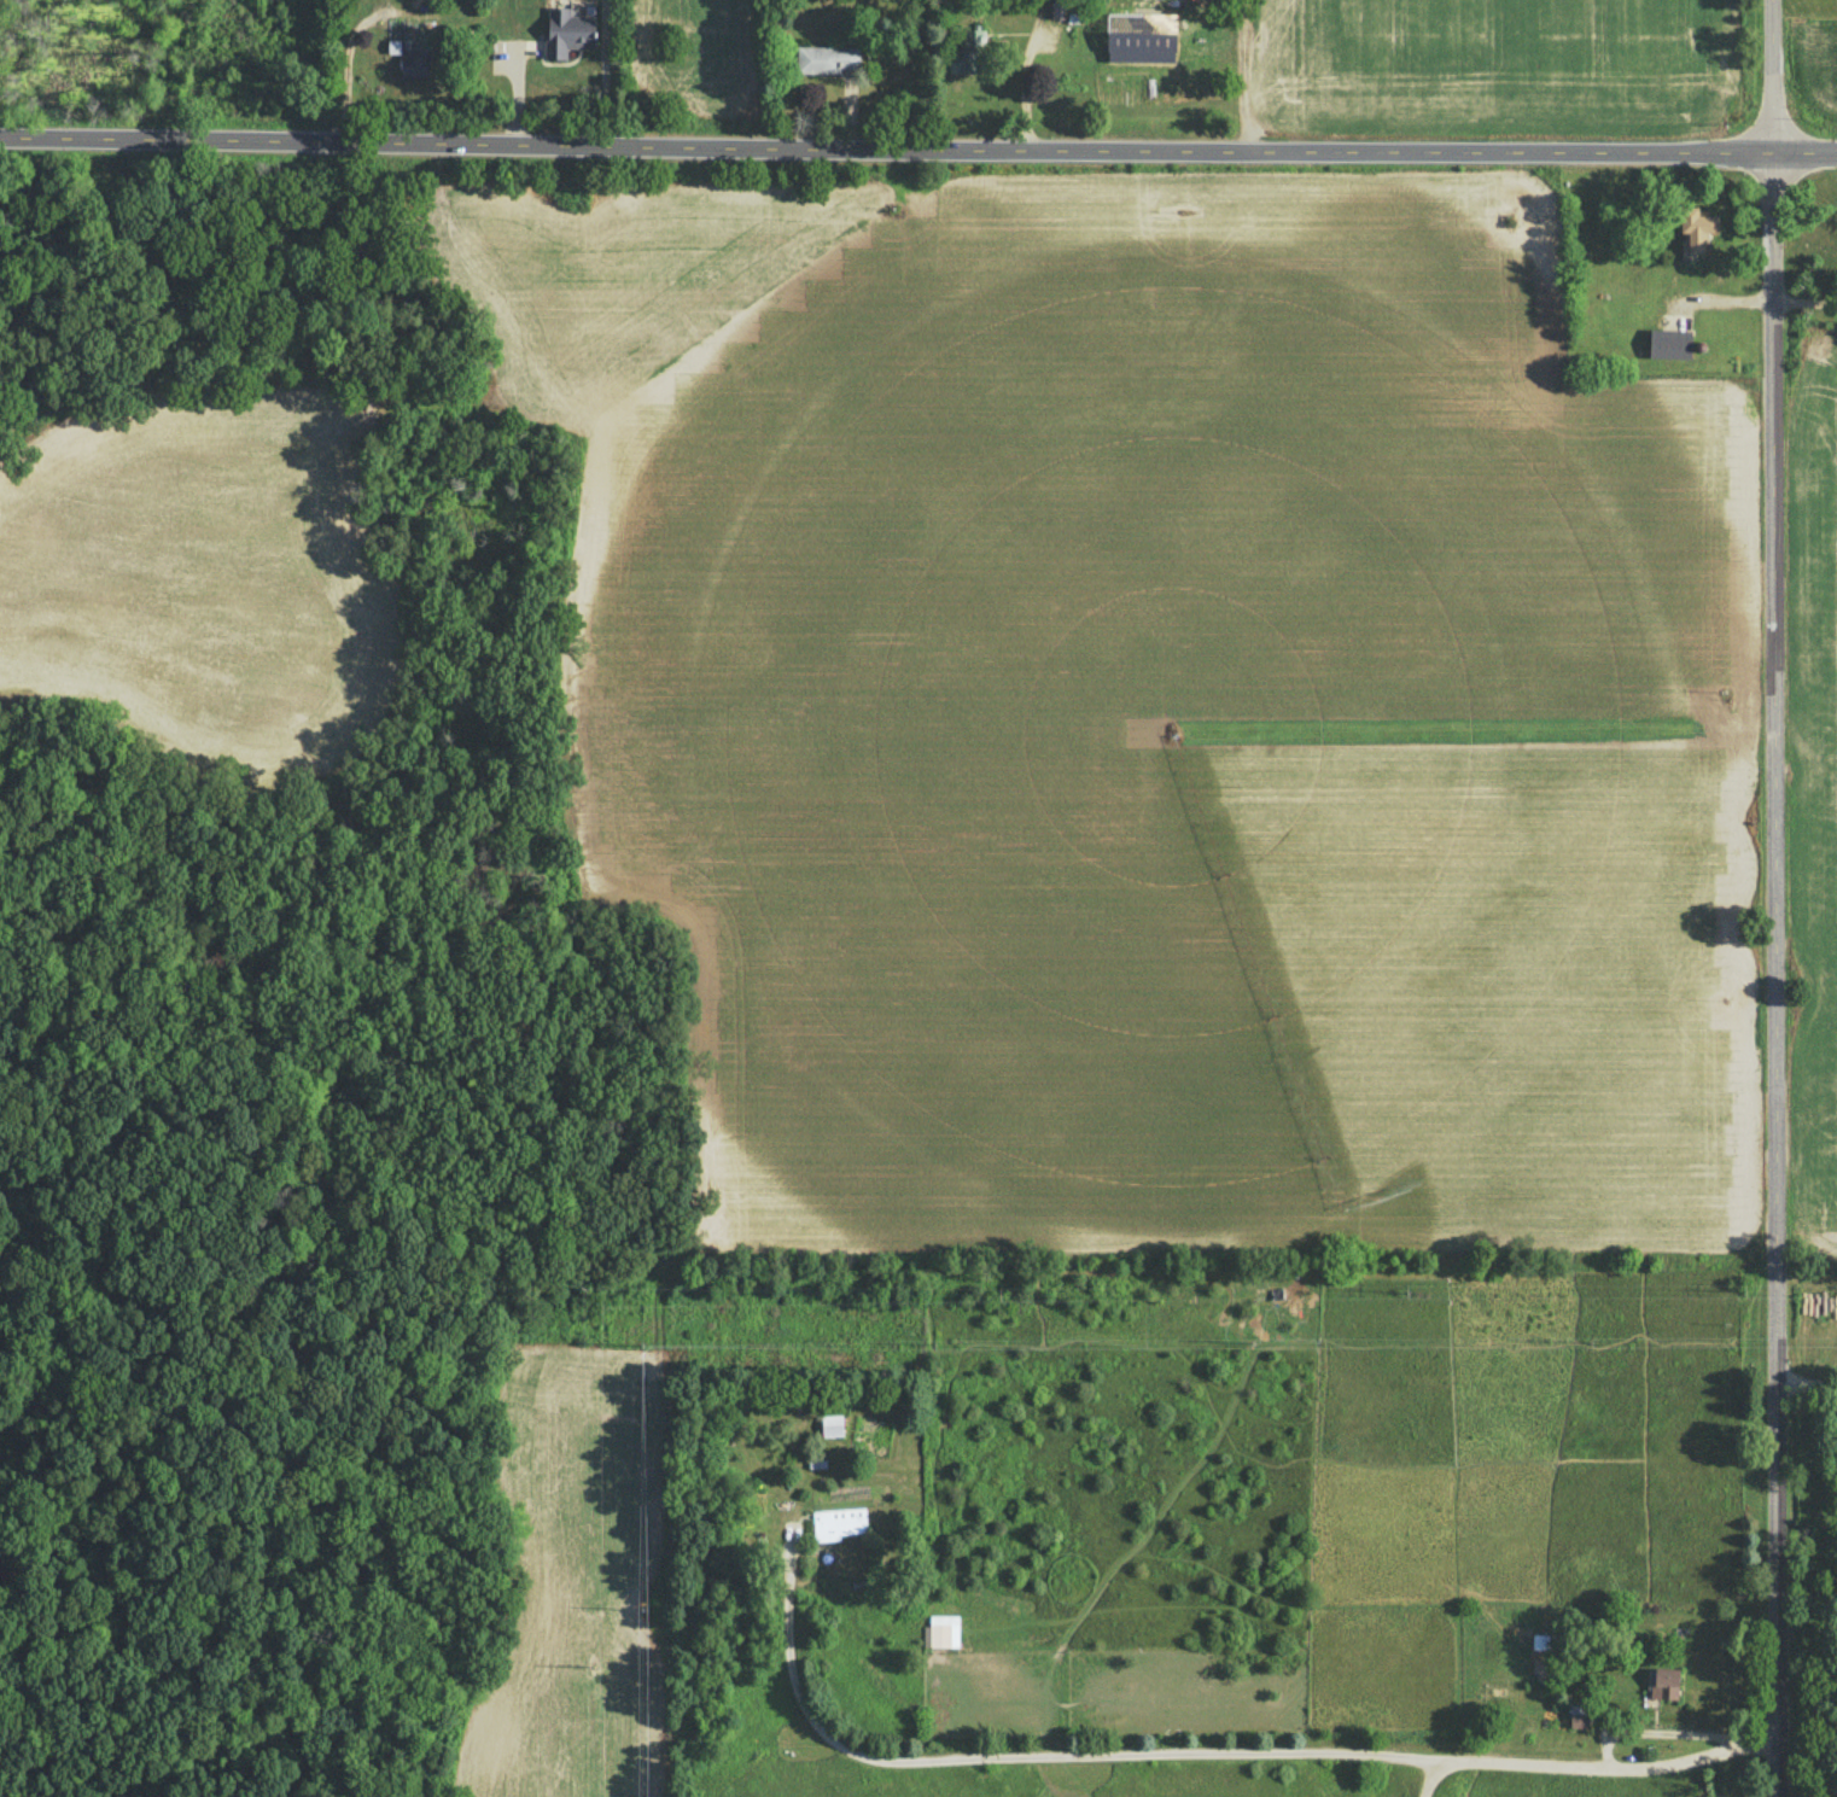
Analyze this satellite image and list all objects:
building: (567, 31)
building: (968, 52)
building: (827, 58)
road: (346, 68)
road: (606, 74)
road: (917, 148)
building: (1695, 231)
road: (1803, 304)
building: (1669, 343)
road: (1771, 898)
power tower: (1740, 1293)
power tower: (1404, 1297)
power tower: (996, 1300)
power tower: (593, 1305)
power tower: (1590, 1344)
power tower: (1253, 1346)
power tower: (934, 1347)
power tower: (642, 1348)
road: (1804, 1381)
building: (832, 1424)
building: (836, 1523)
power tower: (642, 1605)
building: (943, 1630)
power tower: (593, 1670)
building: (1664, 1682)
road: (1205, 1749)
road: (1425, 1775)

